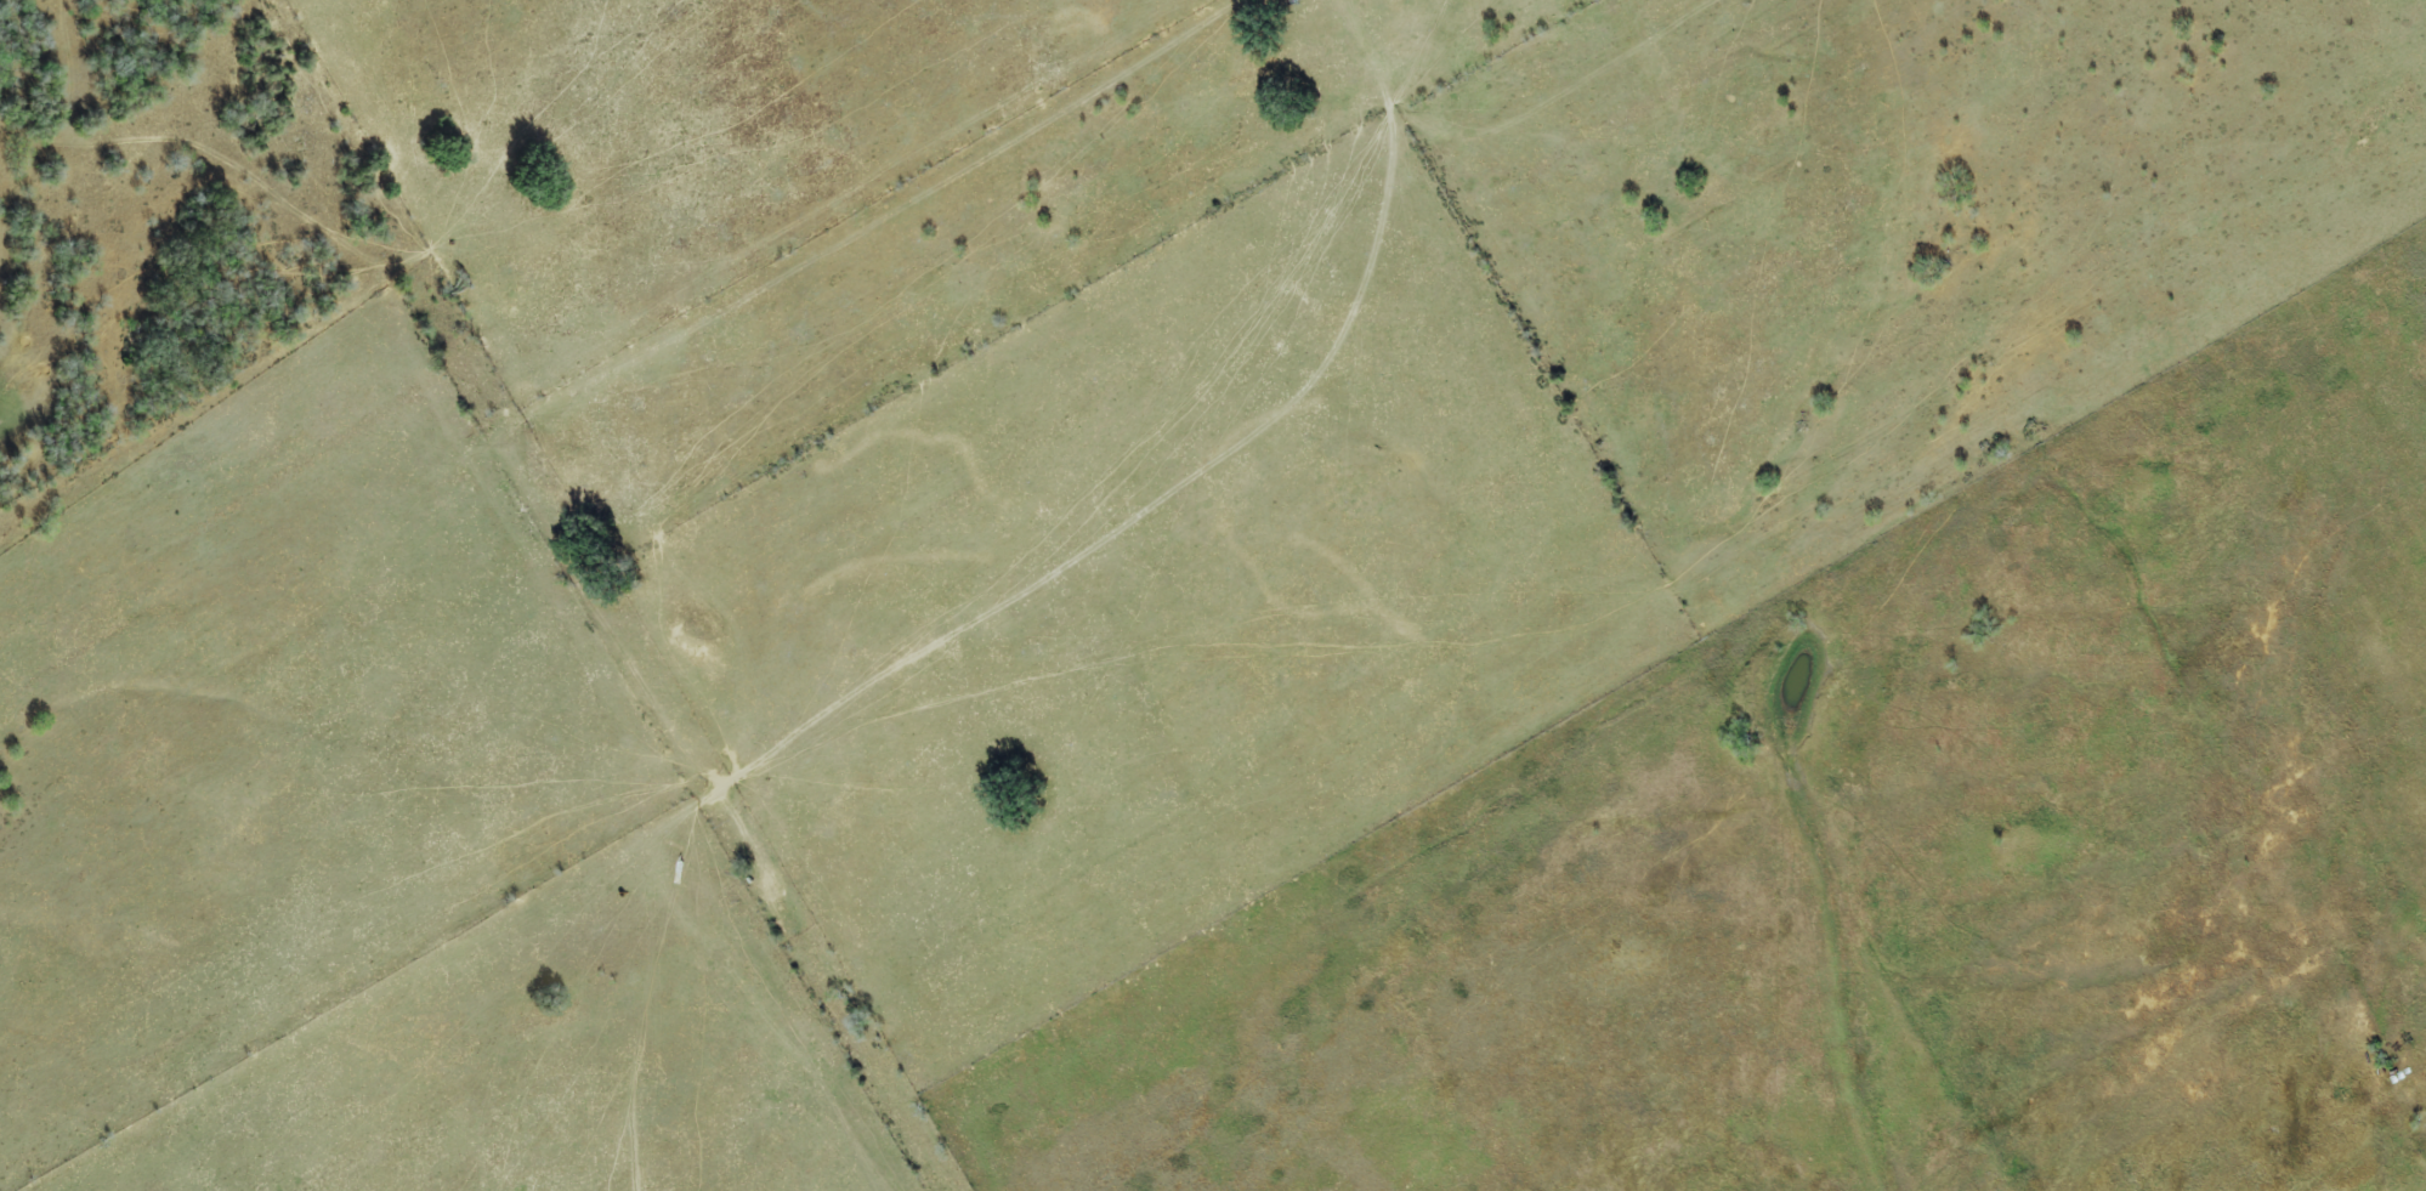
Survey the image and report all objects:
road: (191, 243)

